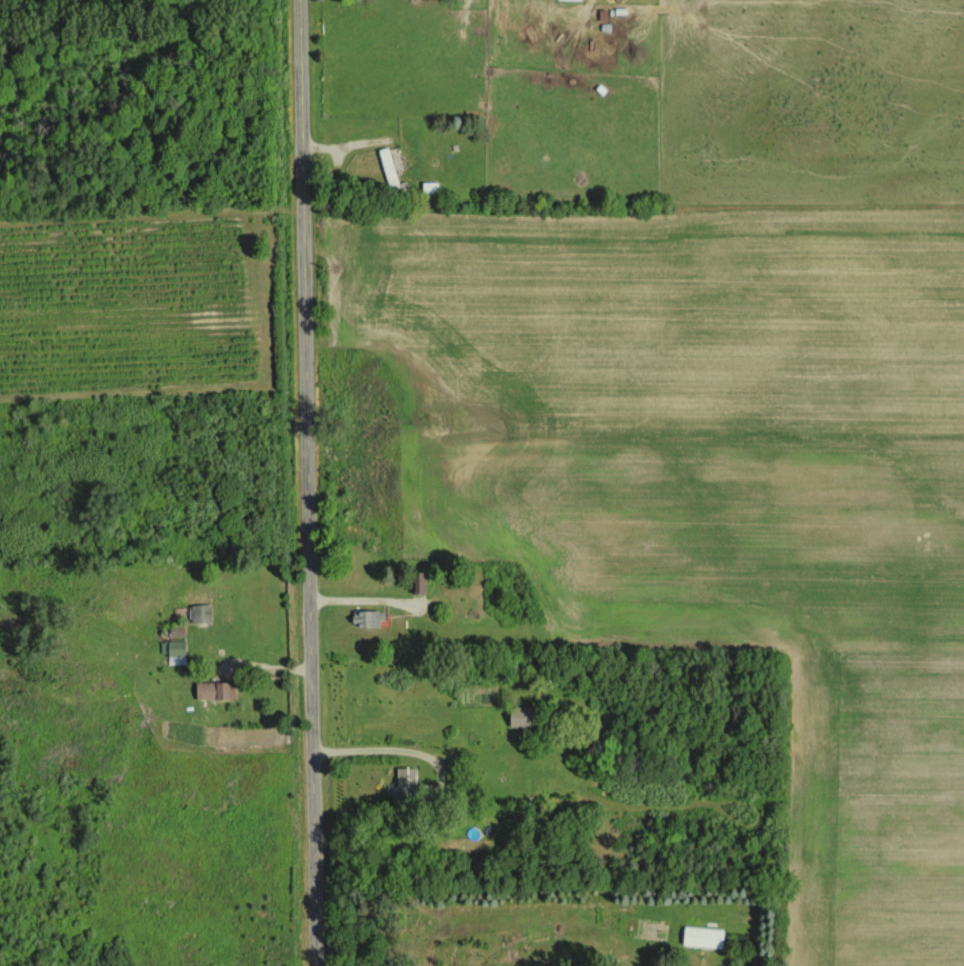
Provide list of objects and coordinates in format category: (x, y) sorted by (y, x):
building: (390, 171)
road: (305, 483)
building: (418, 583)
building: (200, 613)
building: (366, 619)
building: (176, 652)
building: (214, 690)
building: (517, 716)
building: (405, 776)
building: (702, 936)

